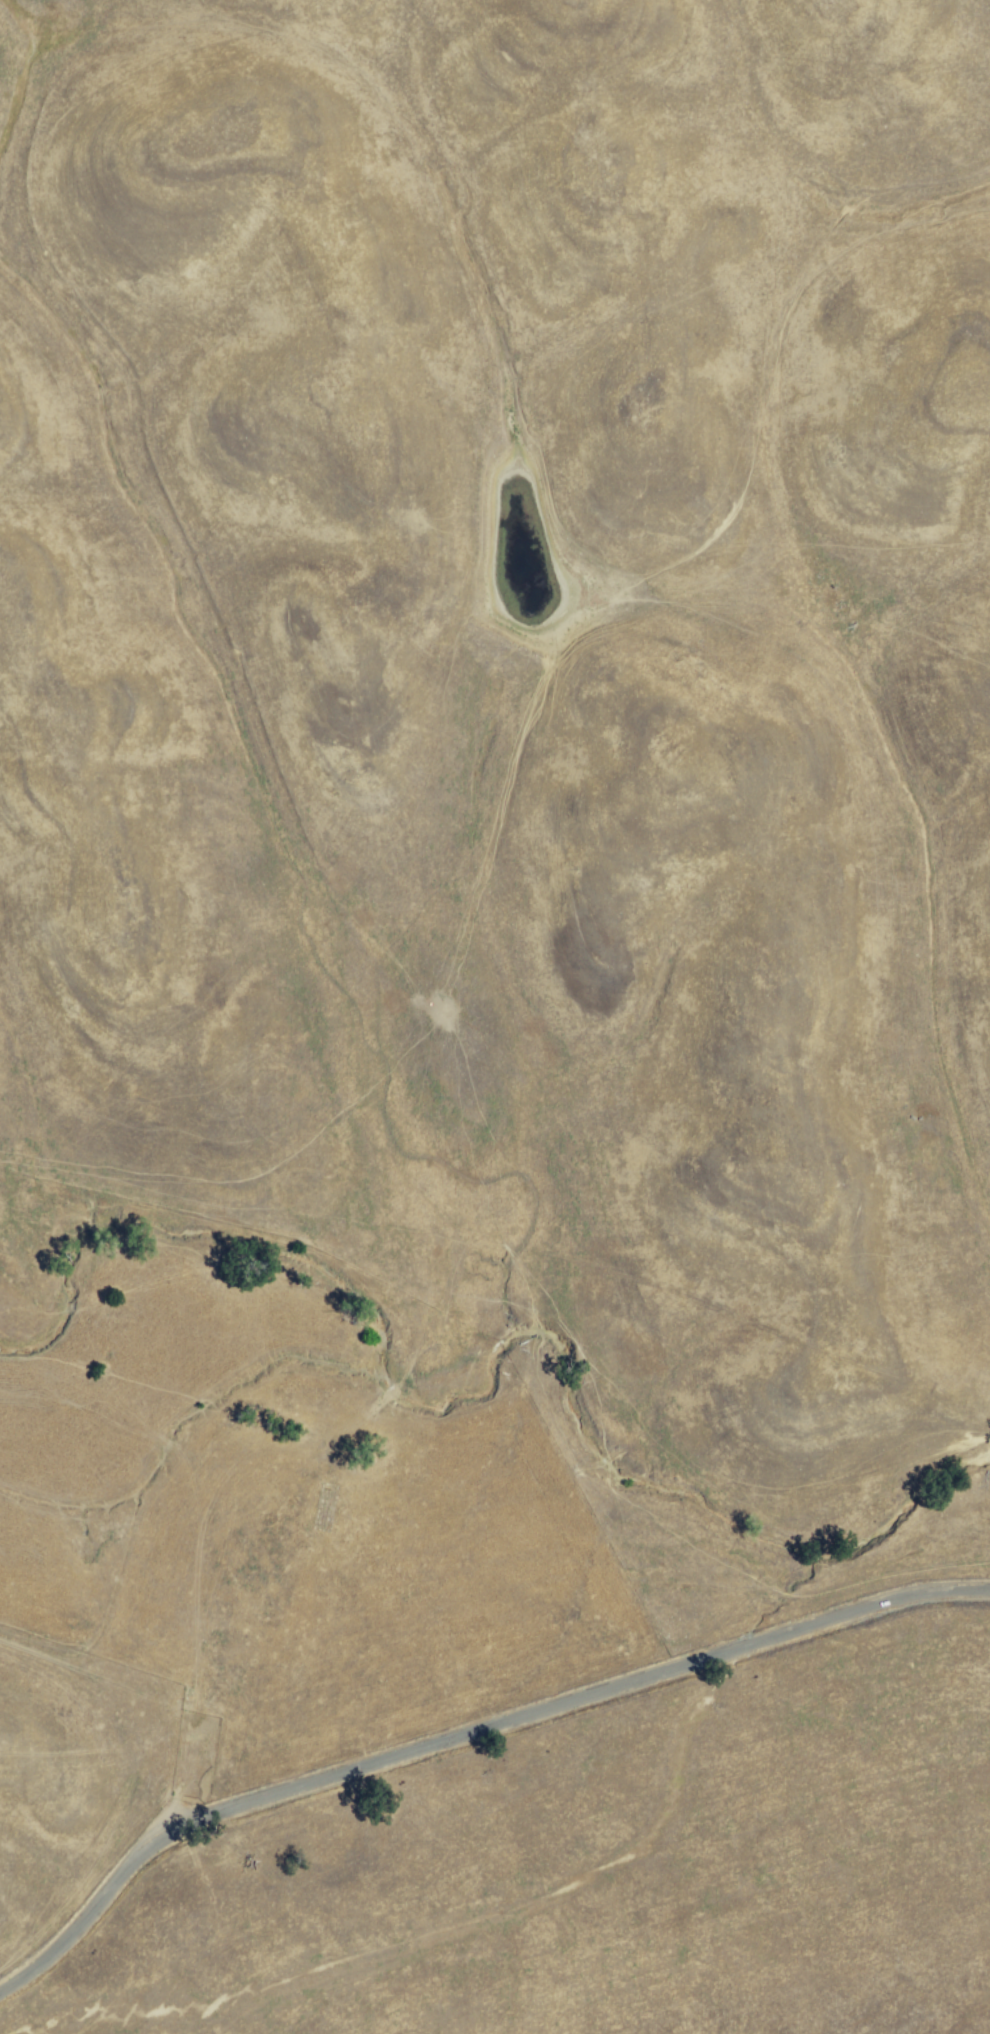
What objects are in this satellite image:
road: (465, 1734)

